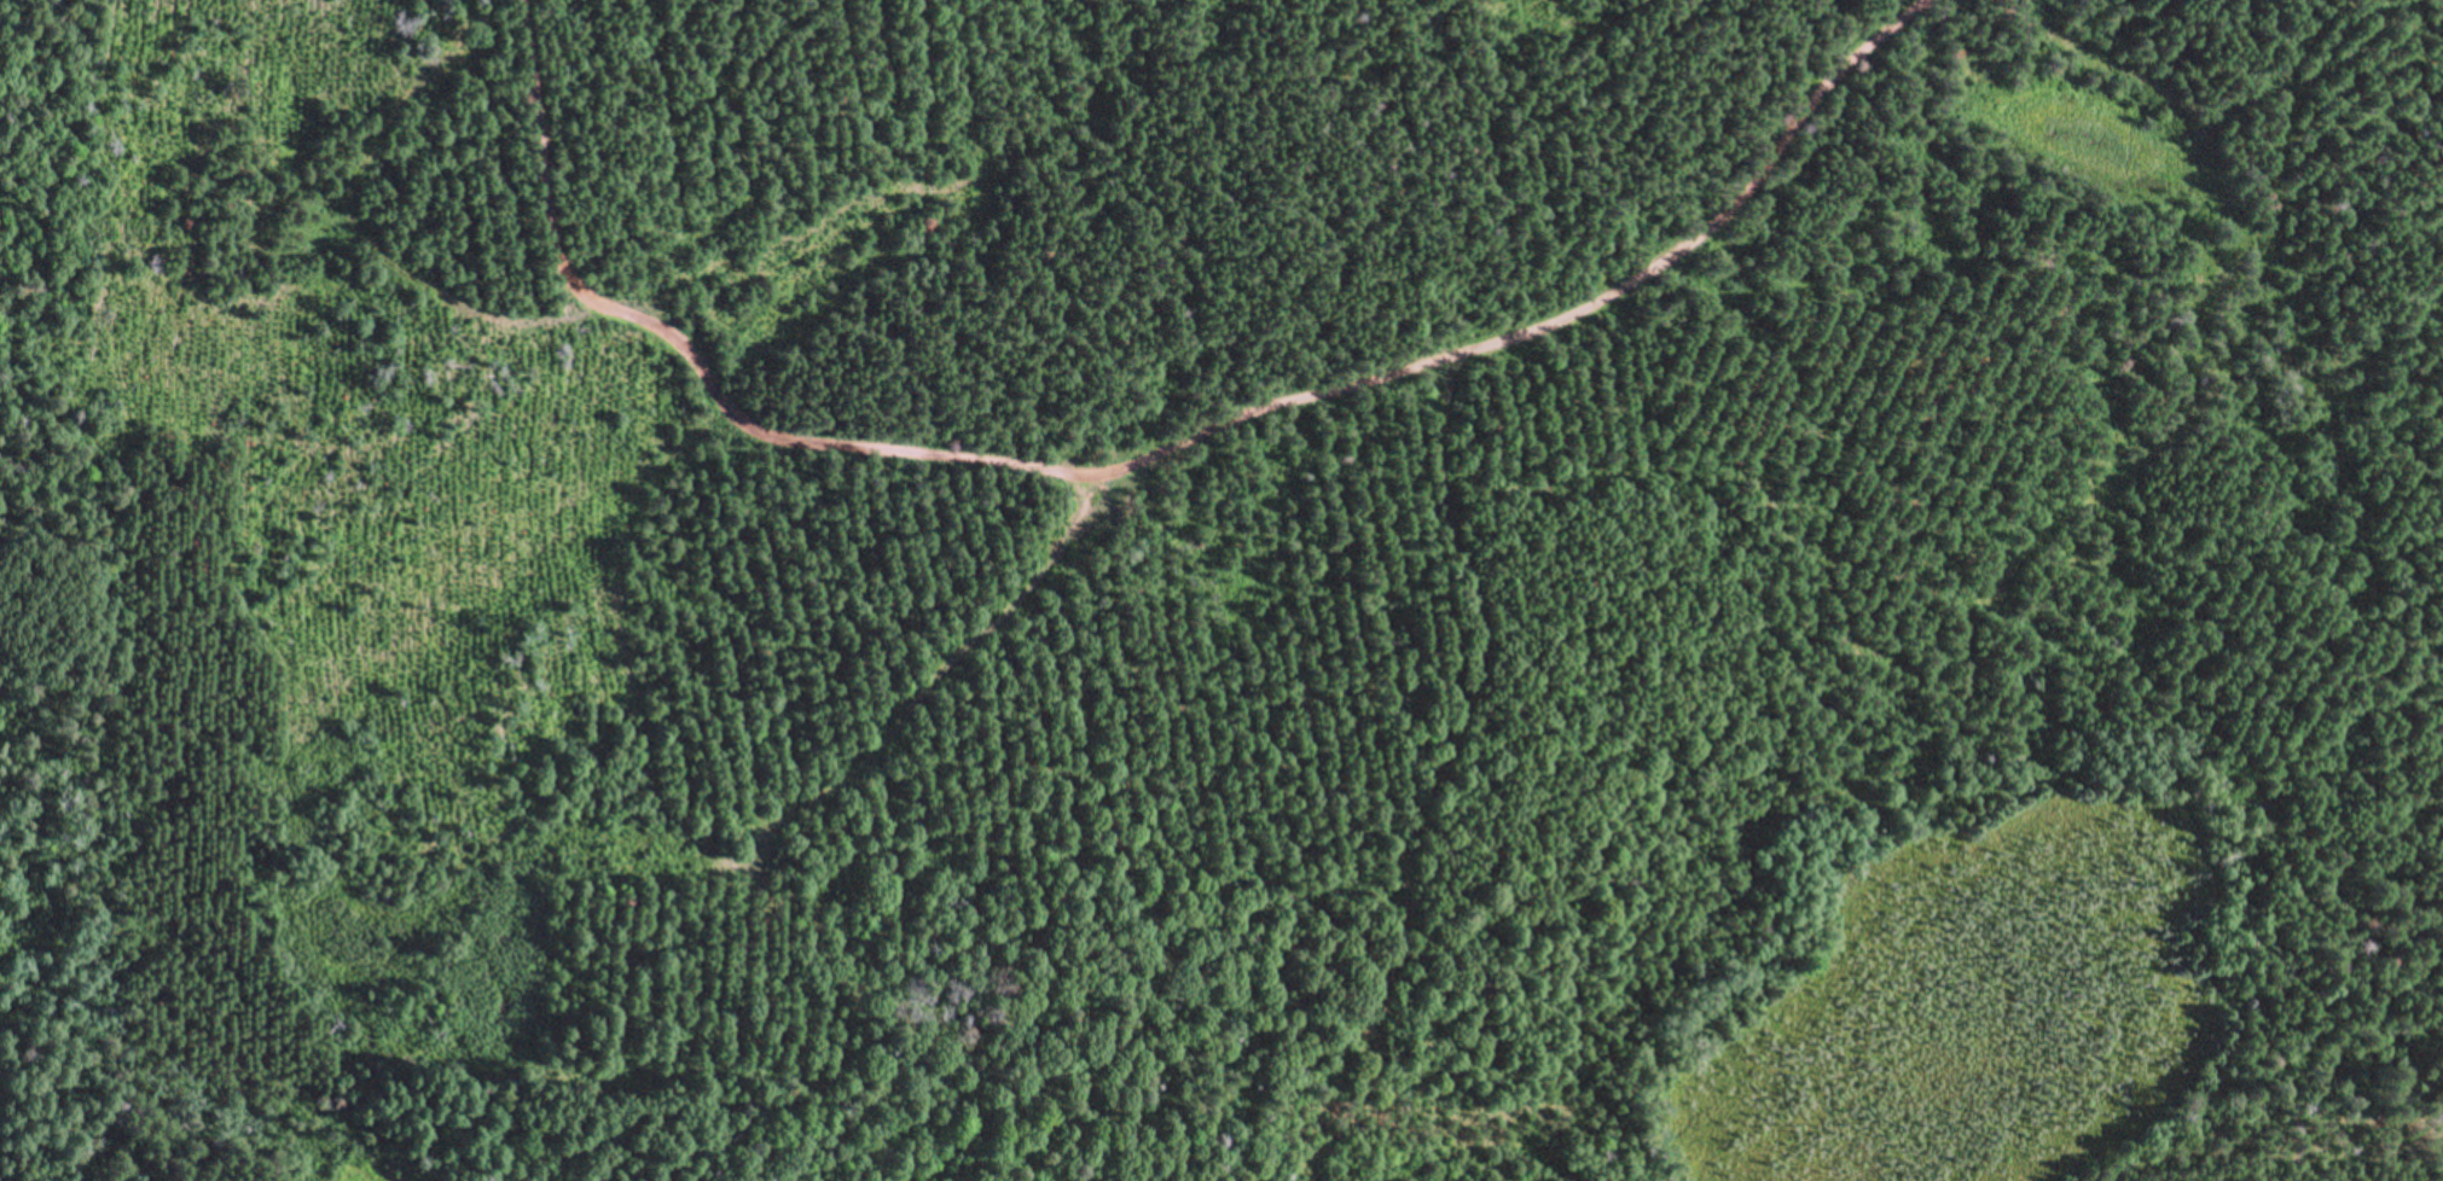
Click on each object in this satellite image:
road: (1040, 459)
road: (1462, 1159)

